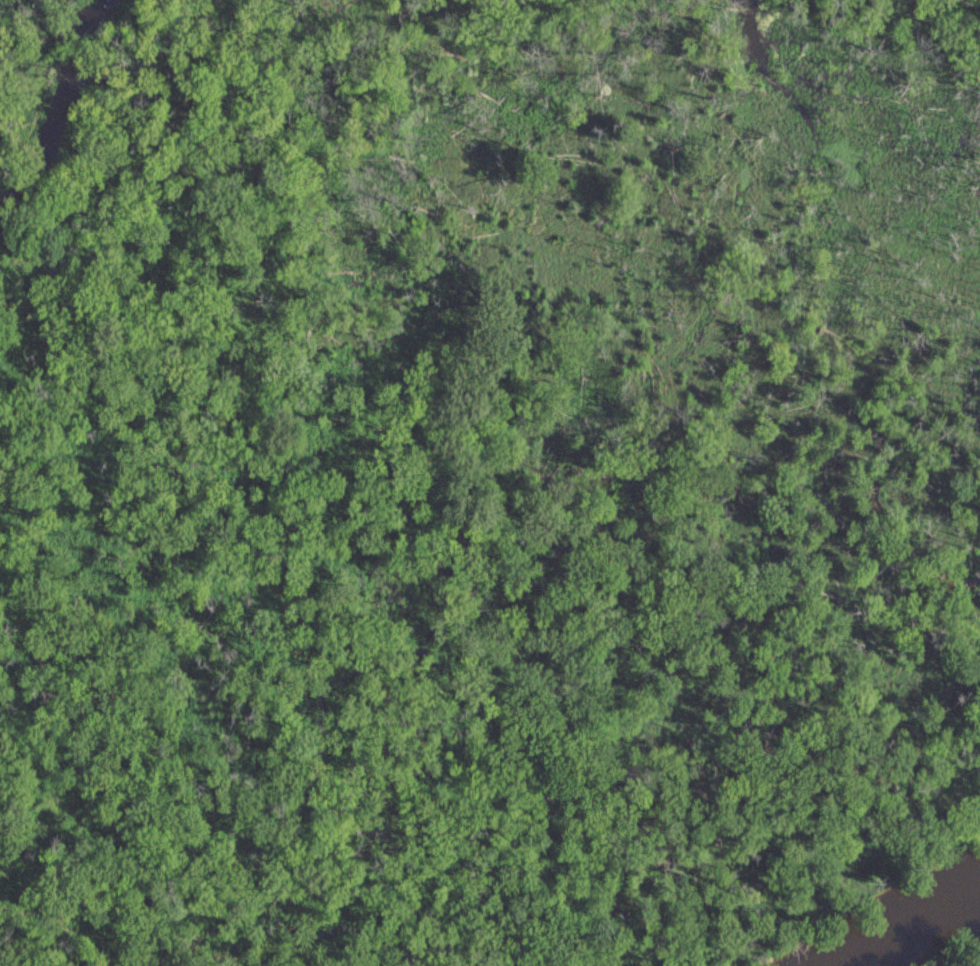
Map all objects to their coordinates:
river: (935, 935)

